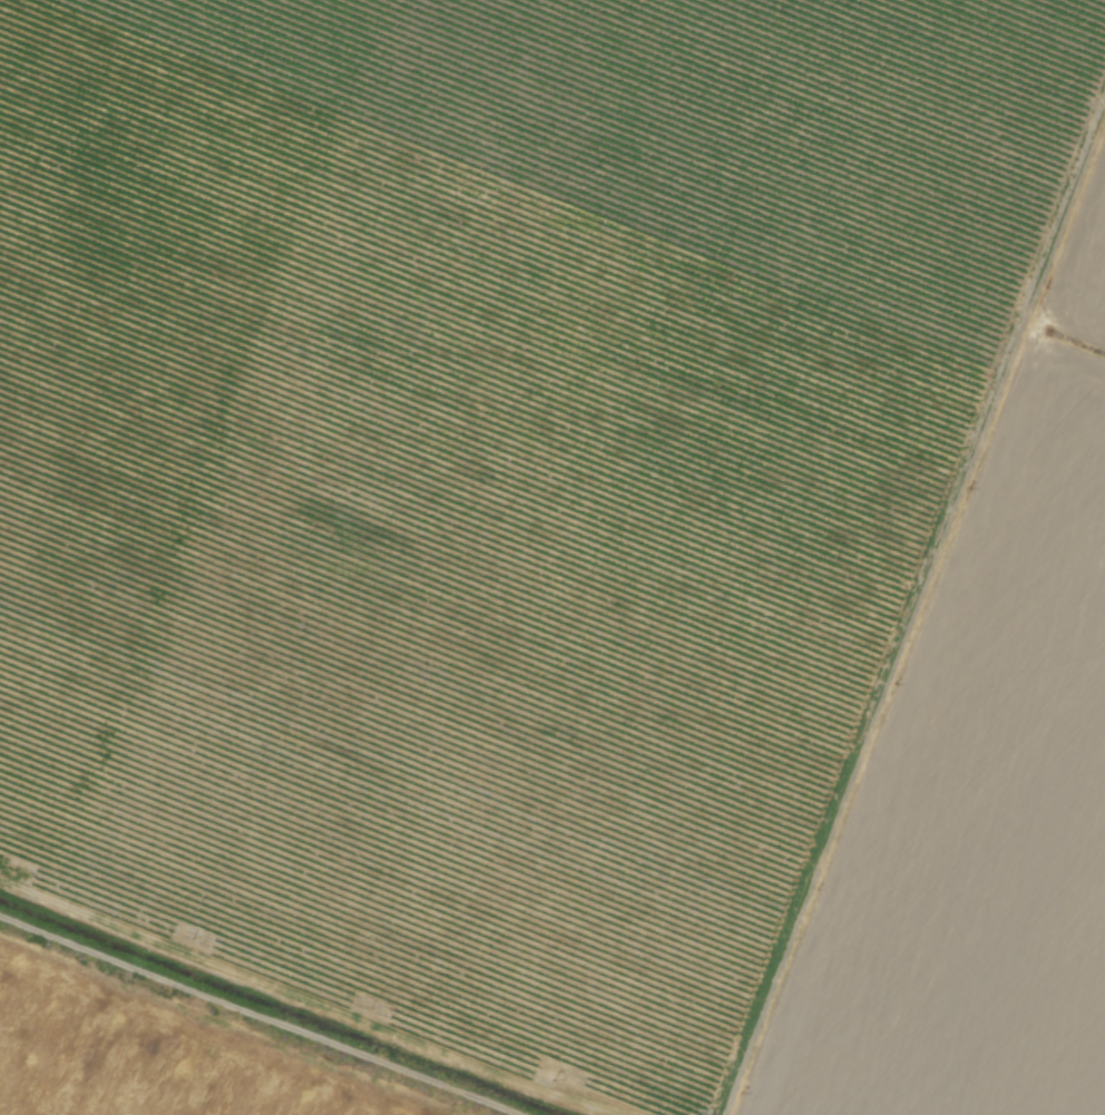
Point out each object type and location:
crop: (982, 775)

